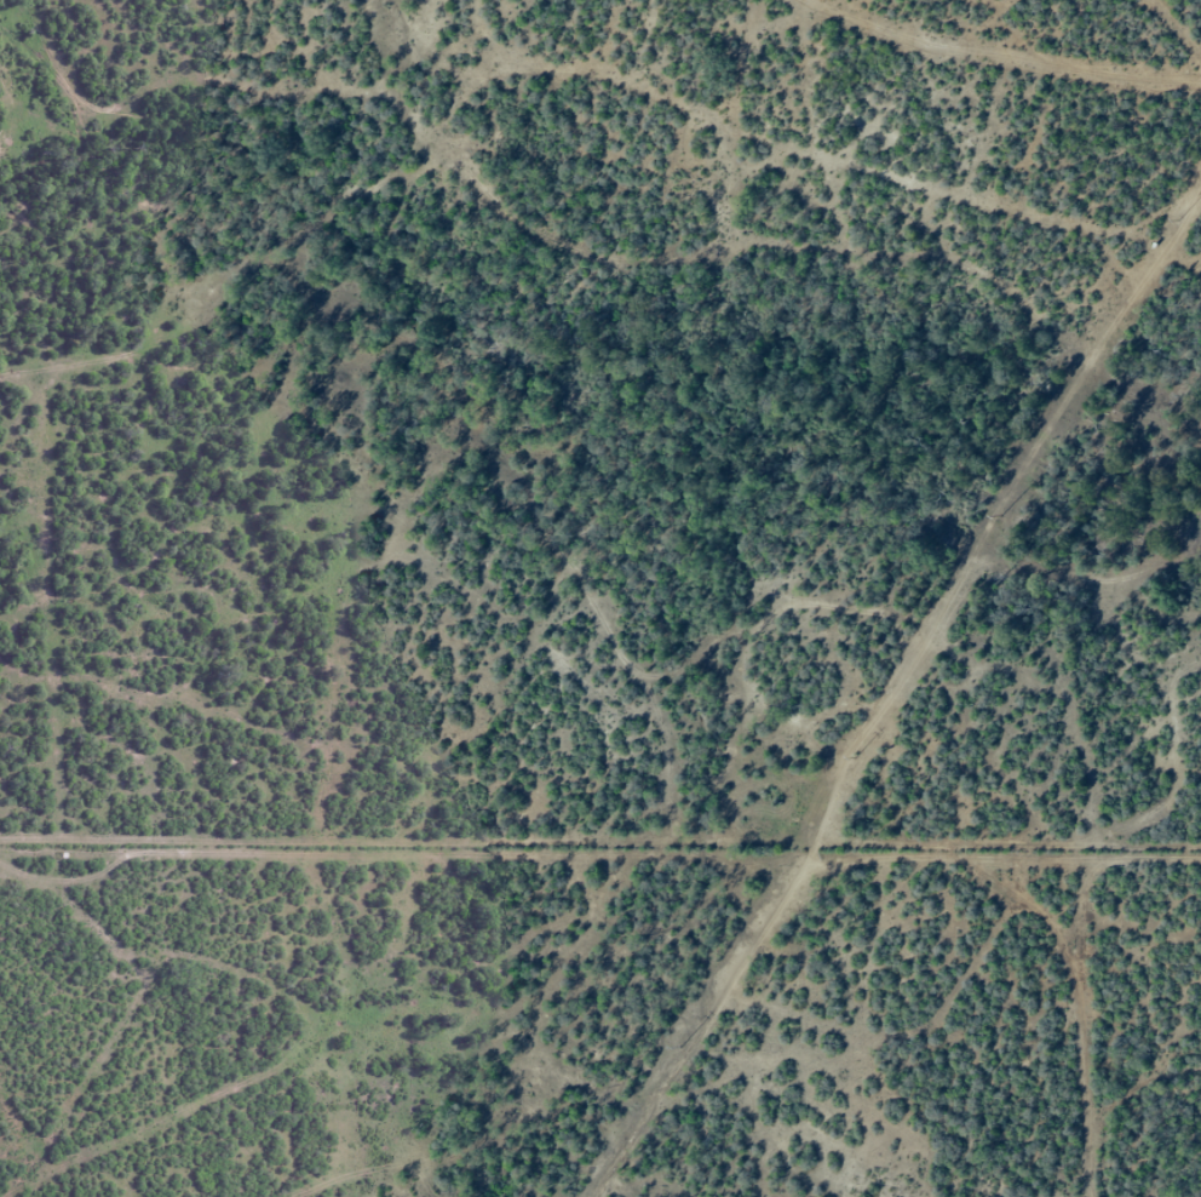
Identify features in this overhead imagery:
power tower: (1179, 222)
power tower: (1000, 516)
power tower: (854, 758)
power tower: (679, 1048)

